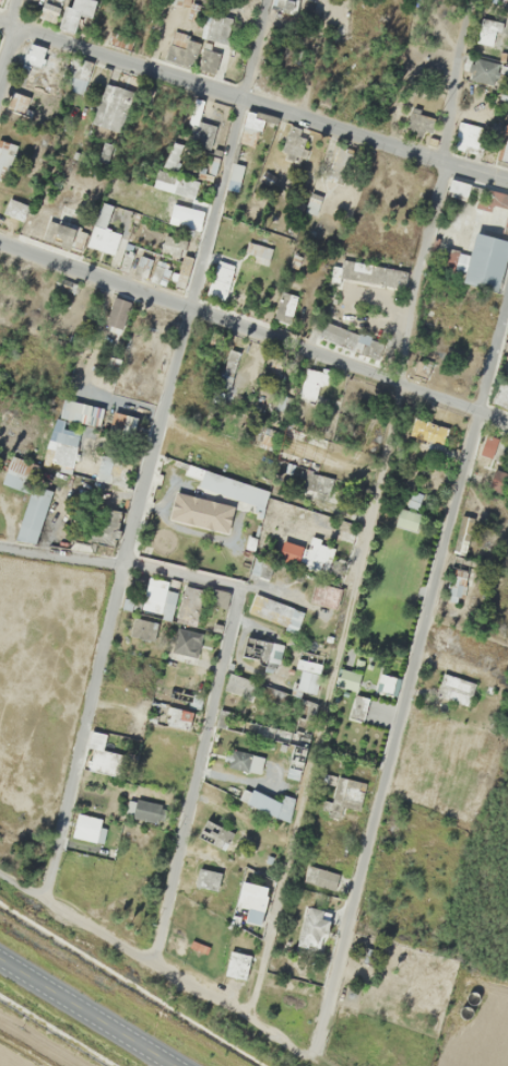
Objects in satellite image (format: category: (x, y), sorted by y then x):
road: (11, 12)
road: (9, 56)
road: (253, 103)
road: (435, 191)
road: (253, 333)
road: (150, 448)
road: (116, 565)
road: (409, 677)
road: (321, 701)
road: (197, 774)
road: (86, 1012)

